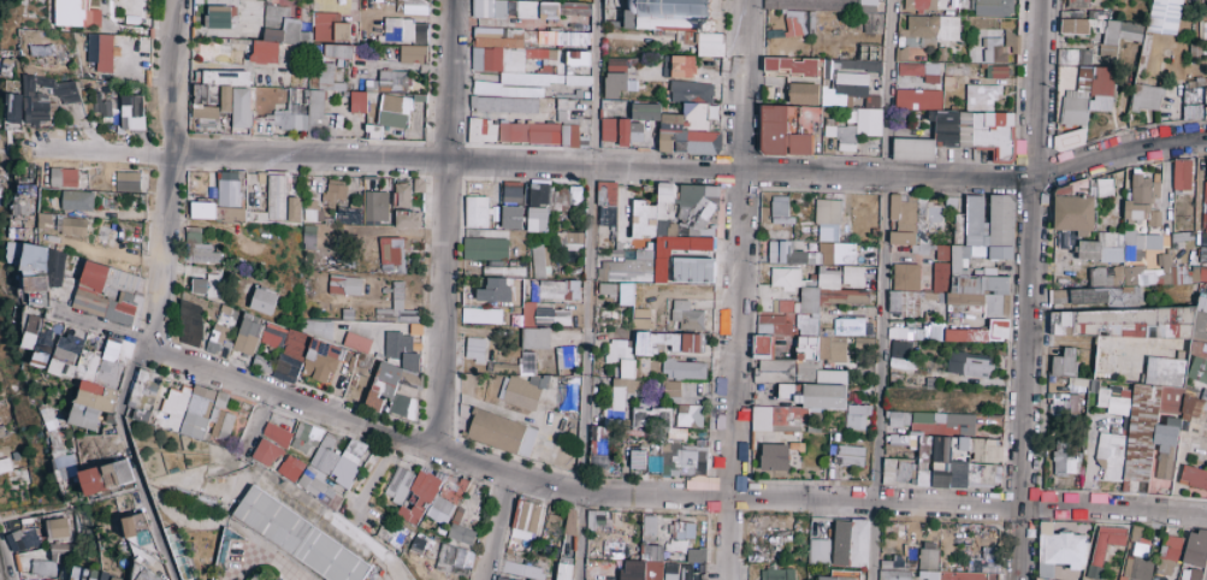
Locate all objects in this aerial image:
building: (1076, 4)
building: (810, 5)
building: (866, 5)
building: (919, 5)
building: (410, 6)
building: (993, 7)
building: (487, 8)
building: (550, 10)
building: (77, 13)
building: (668, 14)
building: (217, 17)
building: (798, 23)
building: (871, 23)
building: (929, 26)
building: (329, 28)
building: (403, 30)
building: (497, 37)
building: (562, 37)
building: (276, 39)
building: (709, 45)
building: (100, 52)
building: (337, 53)
building: (539, 53)
building: (412, 54)
building: (576, 58)
building: (501, 59)
building: (615, 64)
building: (391, 81)
building: (215, 93)
building: (318, 94)
building: (47, 97)
building: (16, 108)
building: (105, 111)
building: (131, 112)
road: (438, 223)
road: (160, 242)
road: (733, 290)

